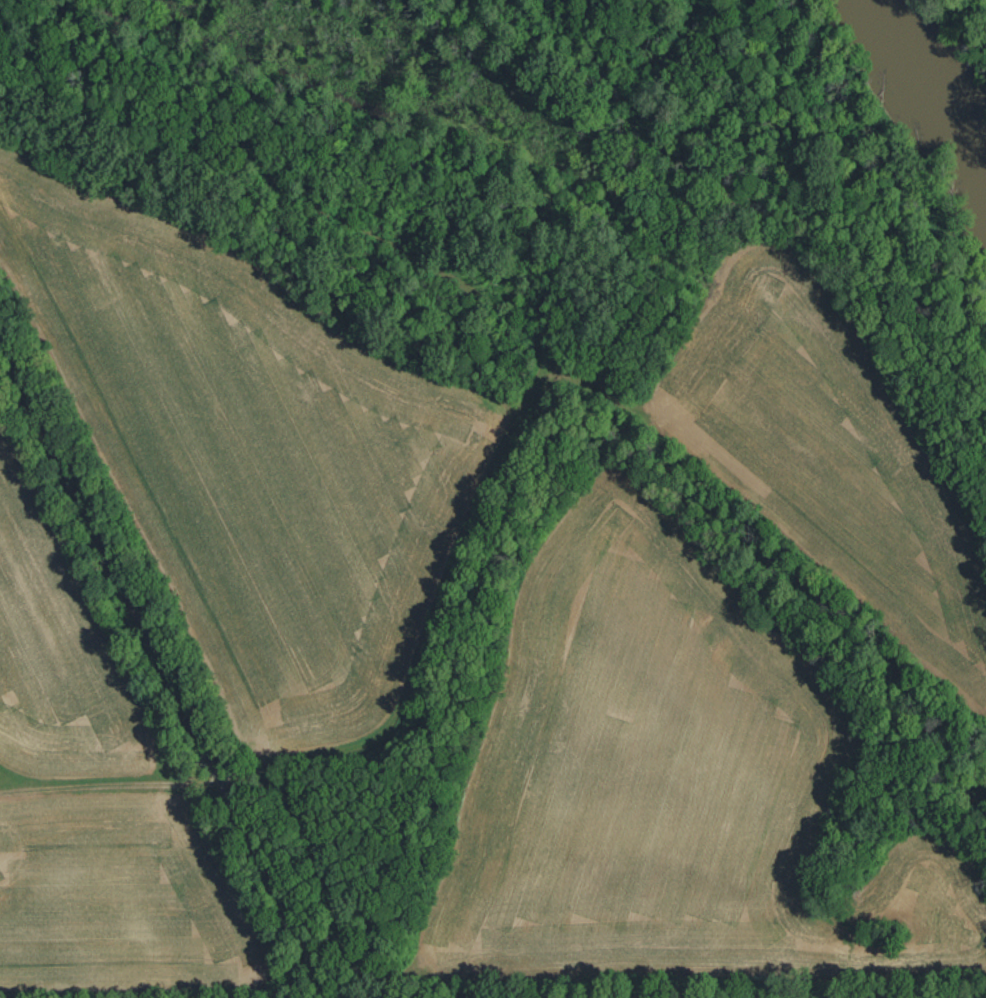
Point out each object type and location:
river: (929, 96)
road: (329, 213)
road: (163, 671)
road: (391, 726)

